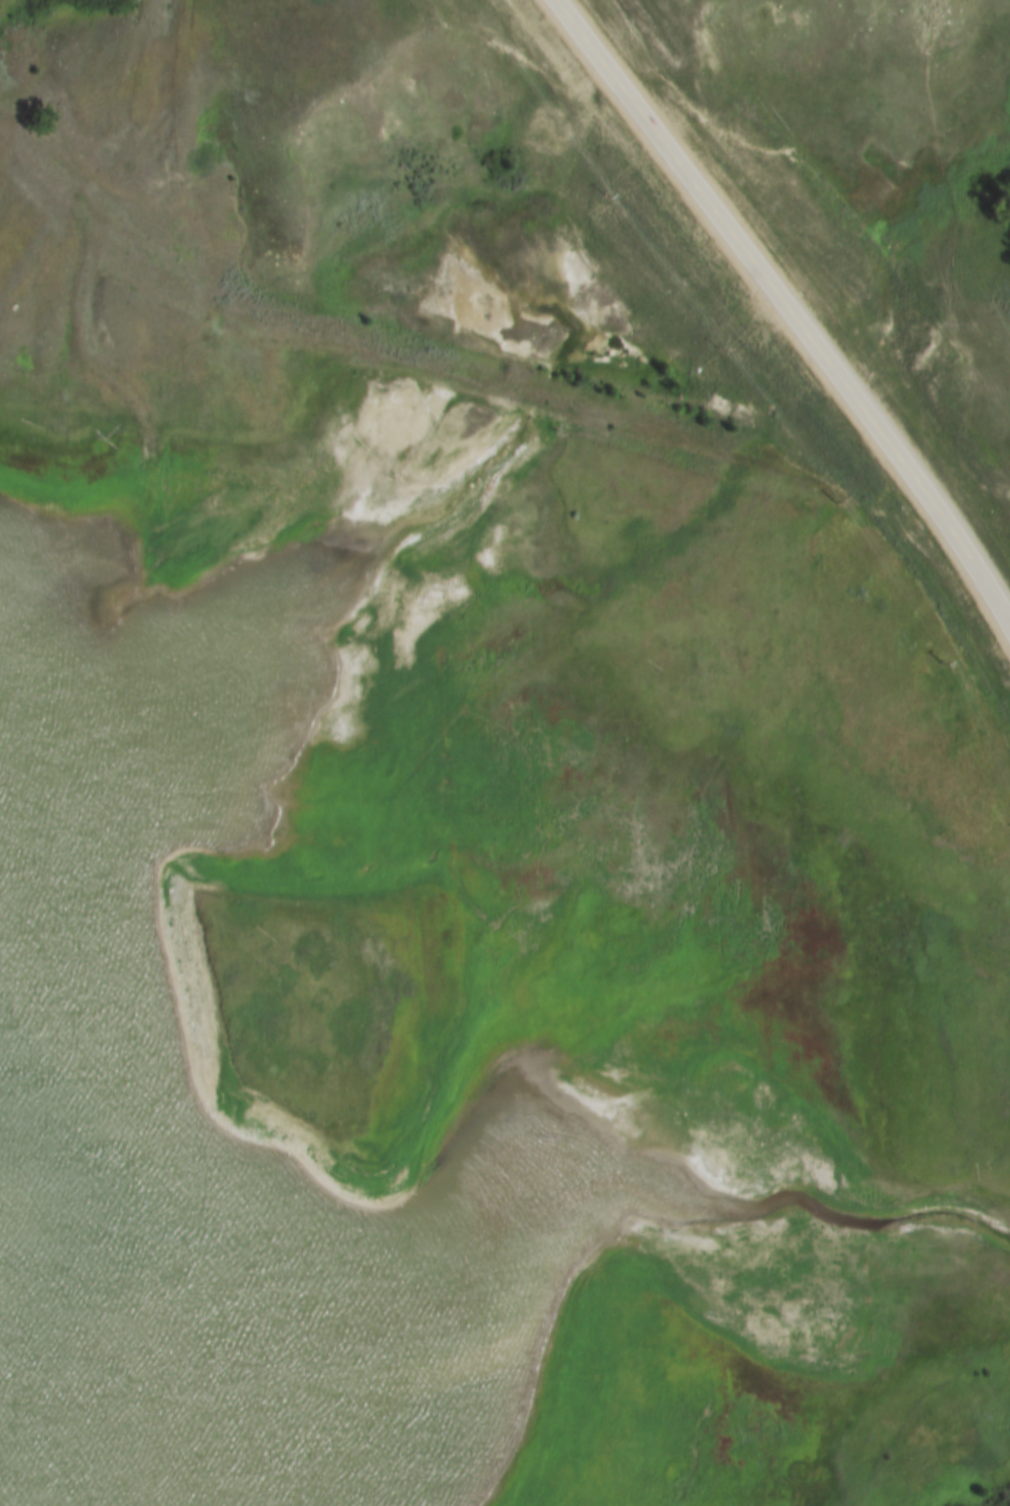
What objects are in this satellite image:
road: (785, 311)

